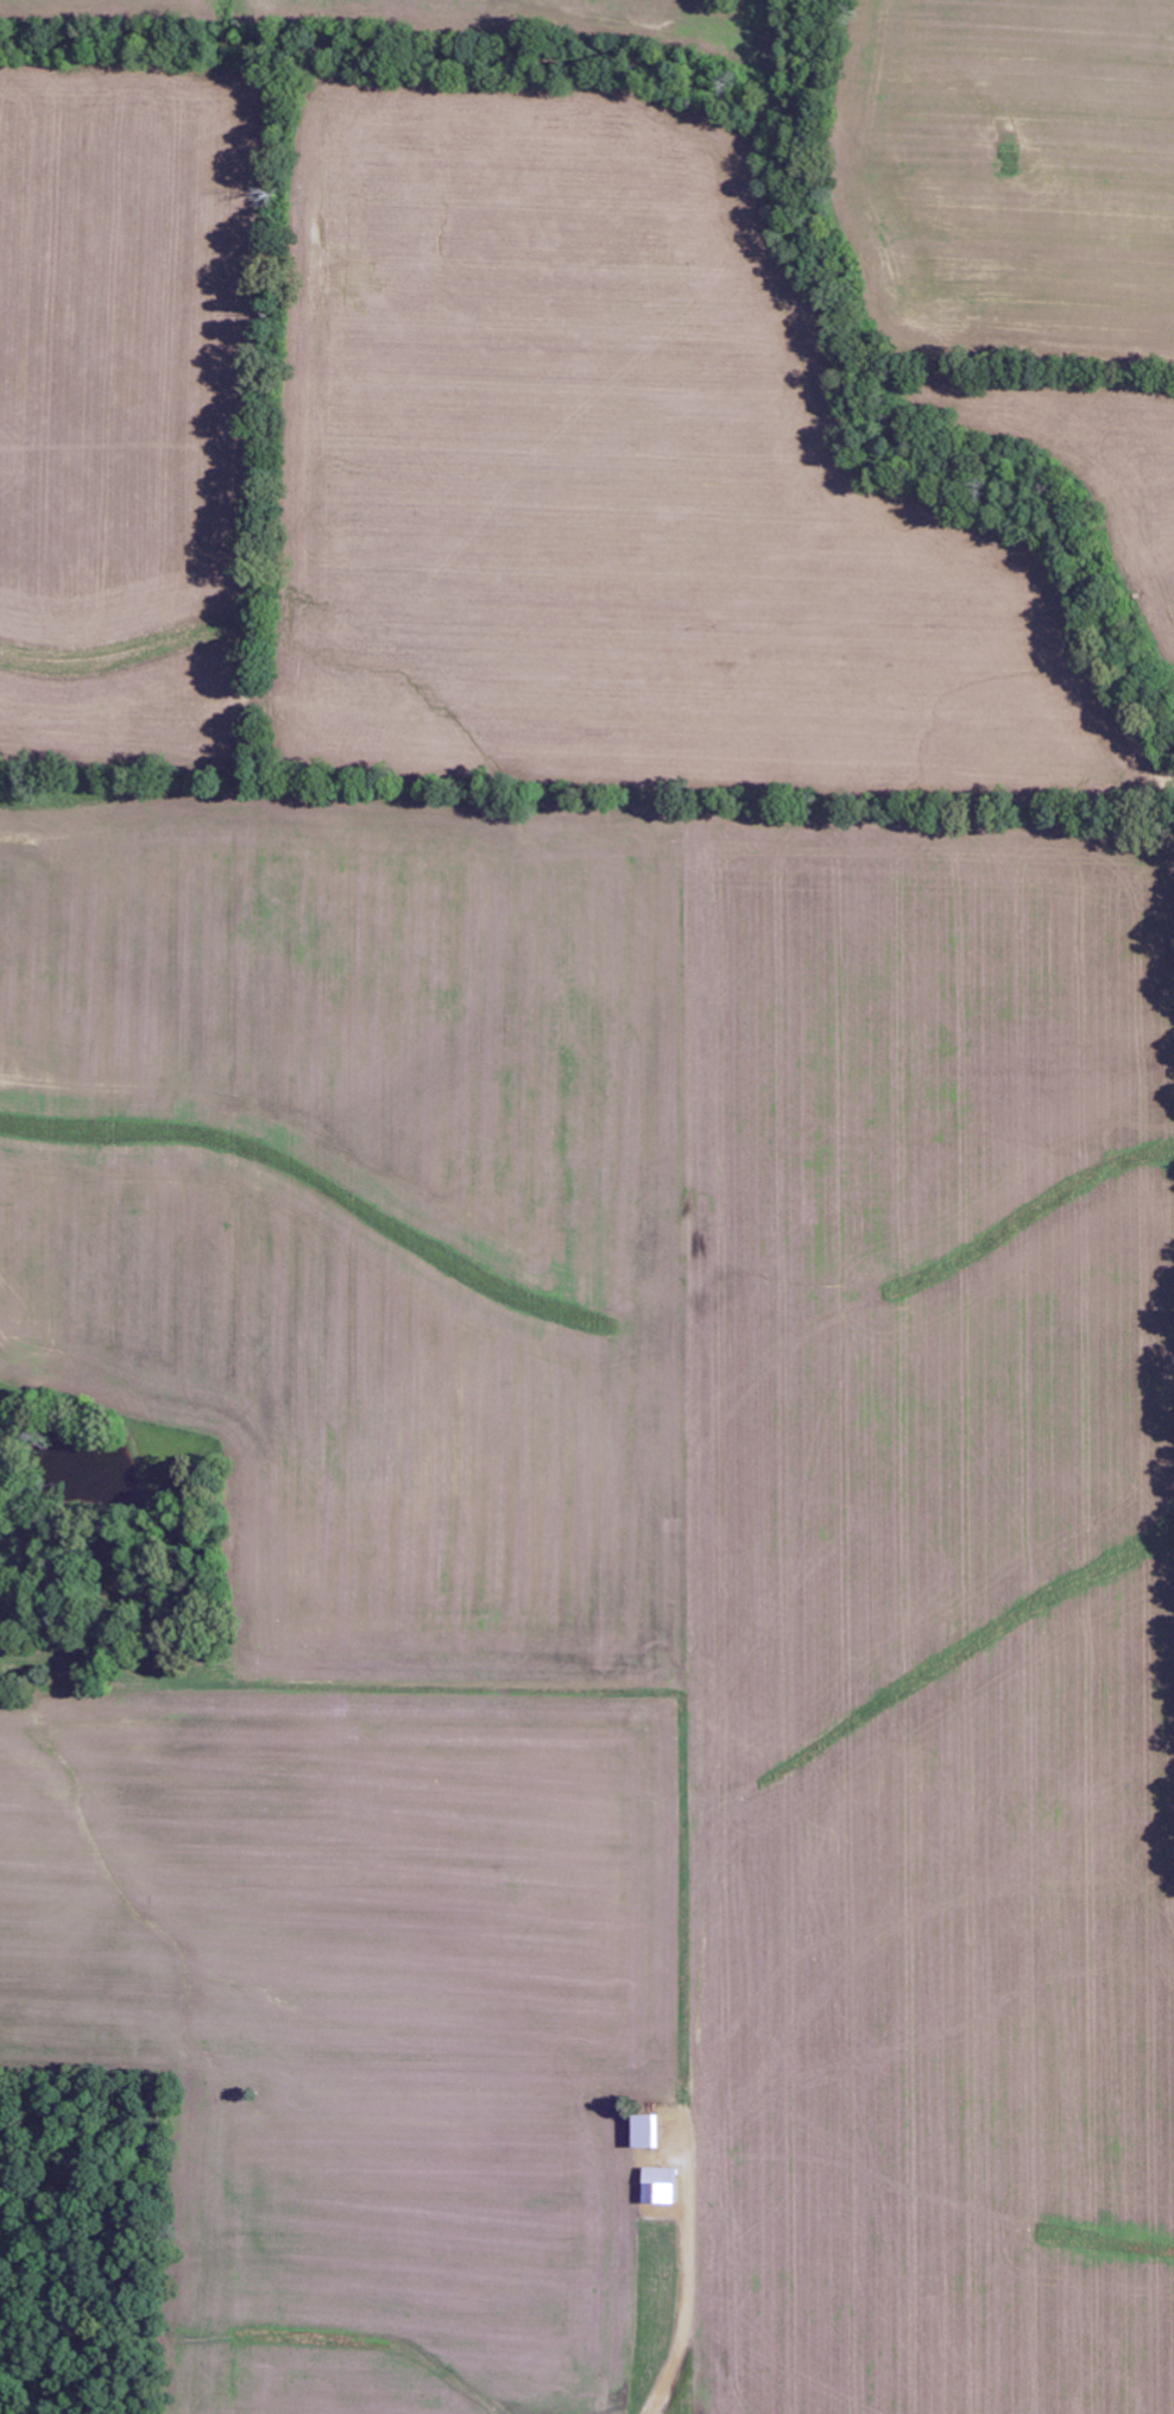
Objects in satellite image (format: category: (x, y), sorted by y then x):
building: (646, 2131)
building: (659, 2186)

